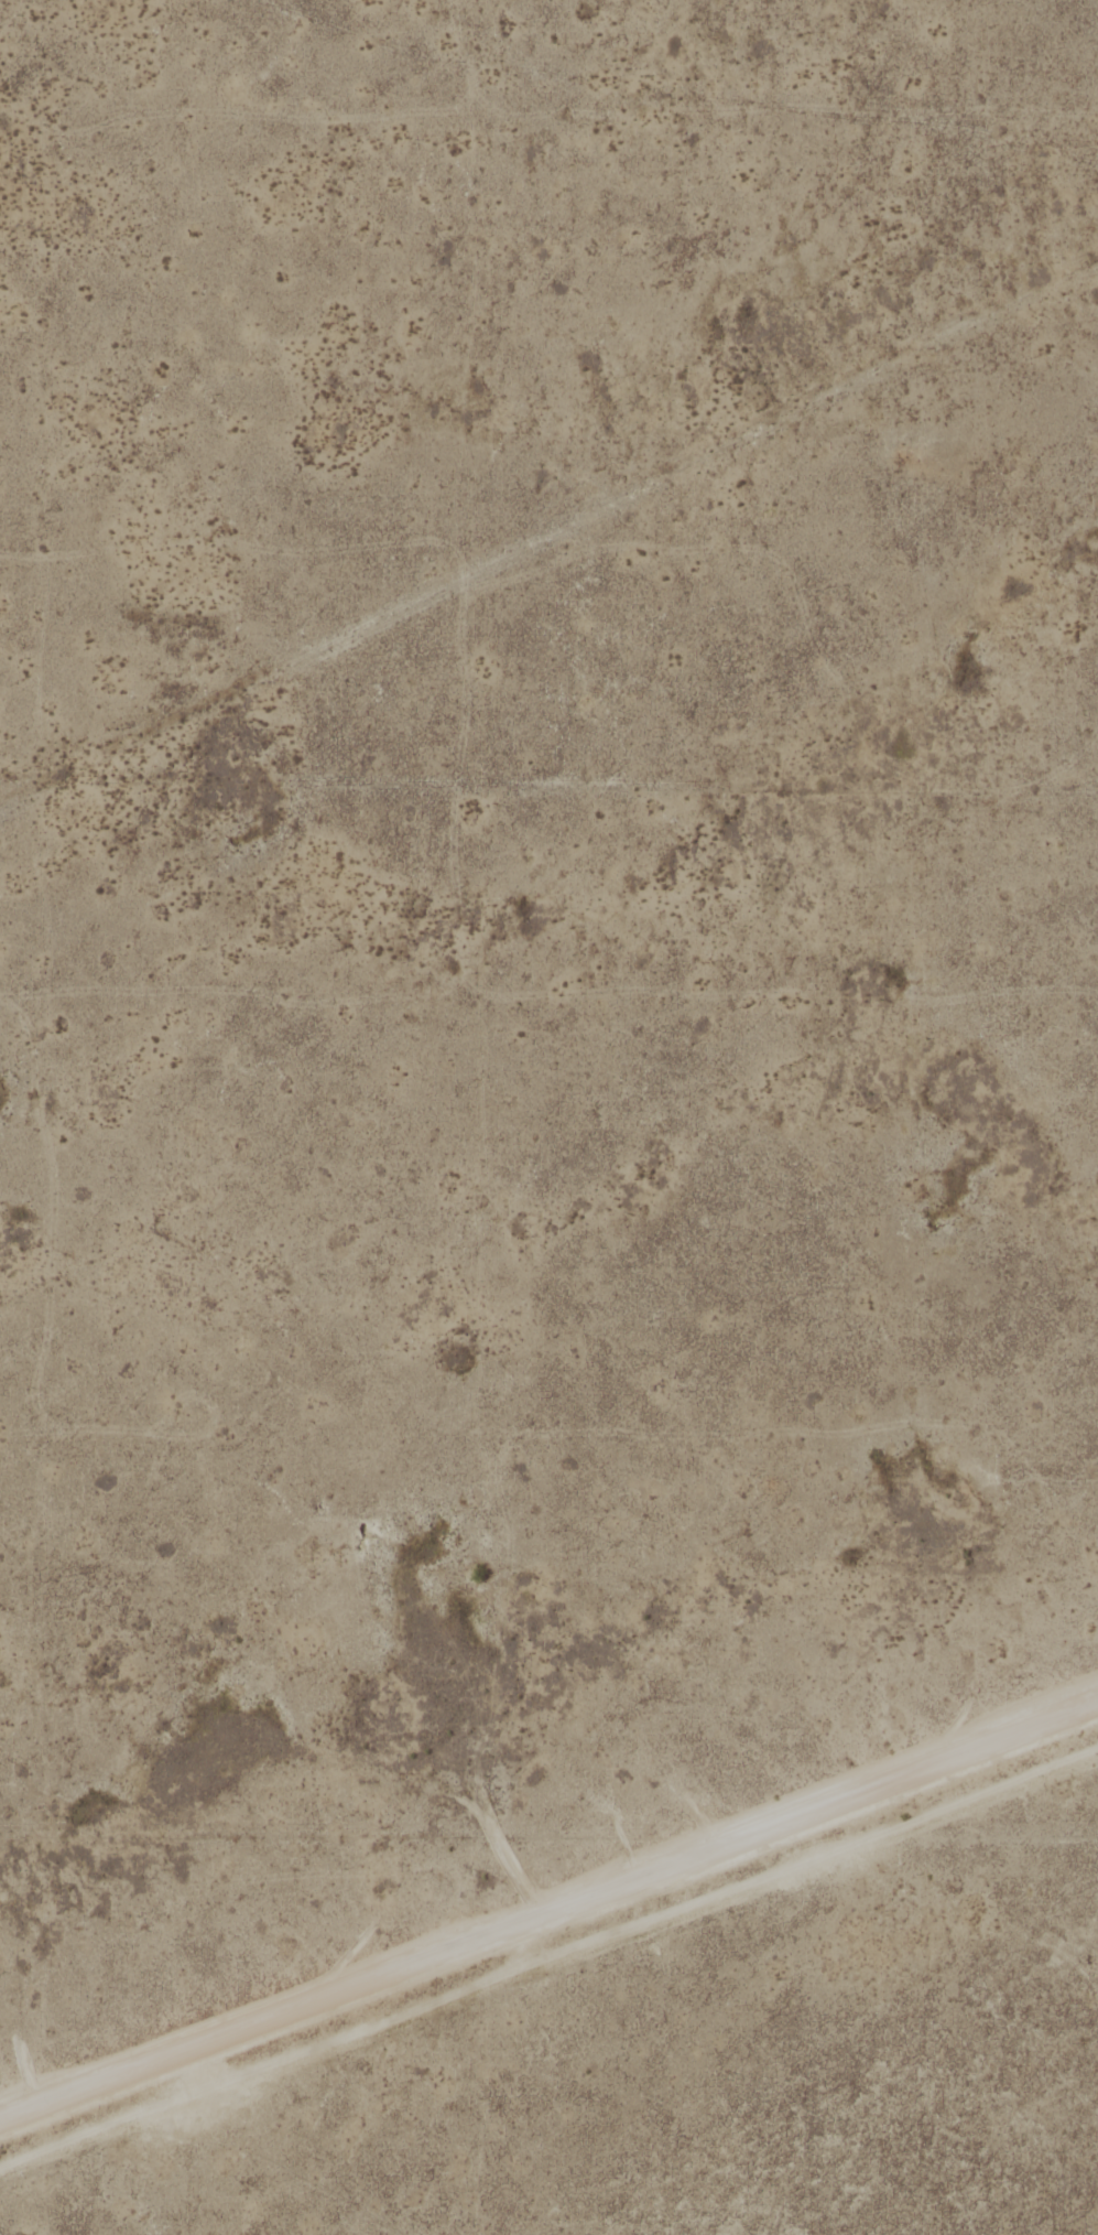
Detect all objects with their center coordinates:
road: (548, 1903)

